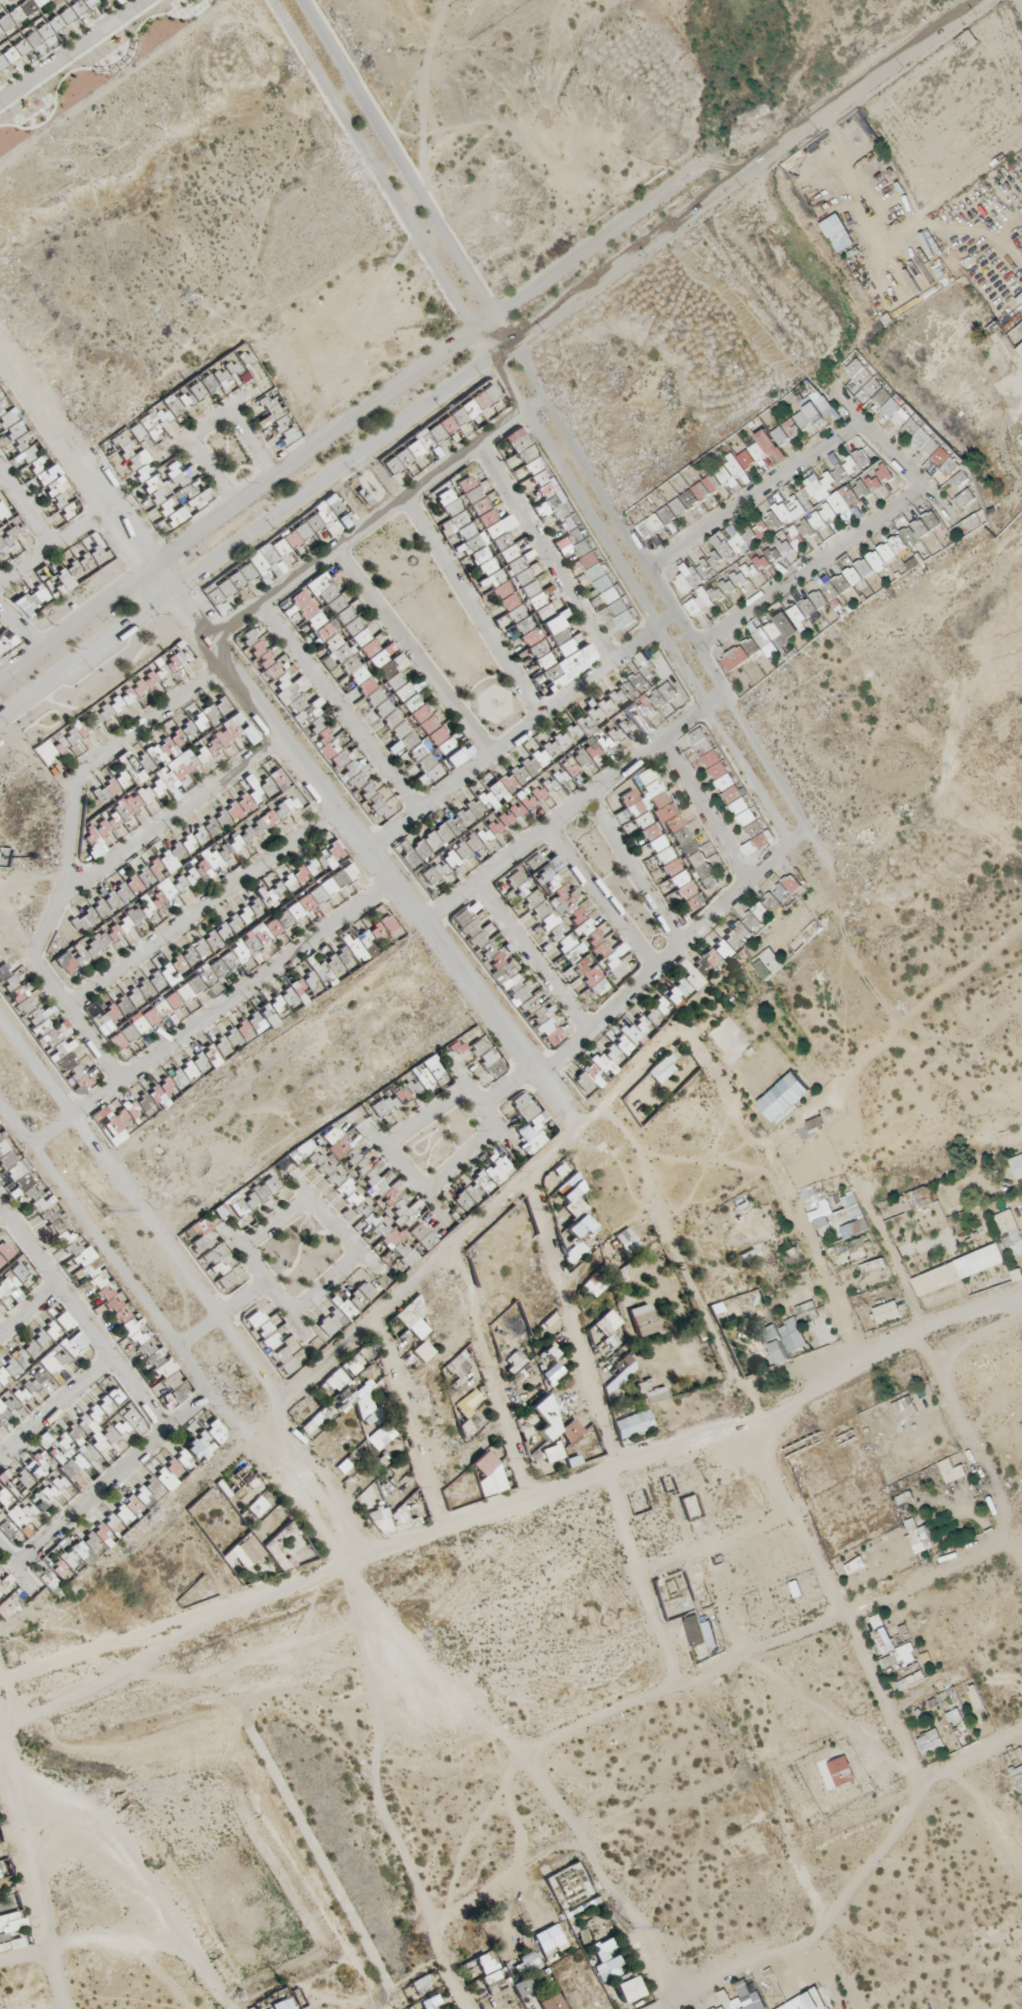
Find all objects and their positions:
power tower: (102, 1210)
power tower: (623, 1925)

